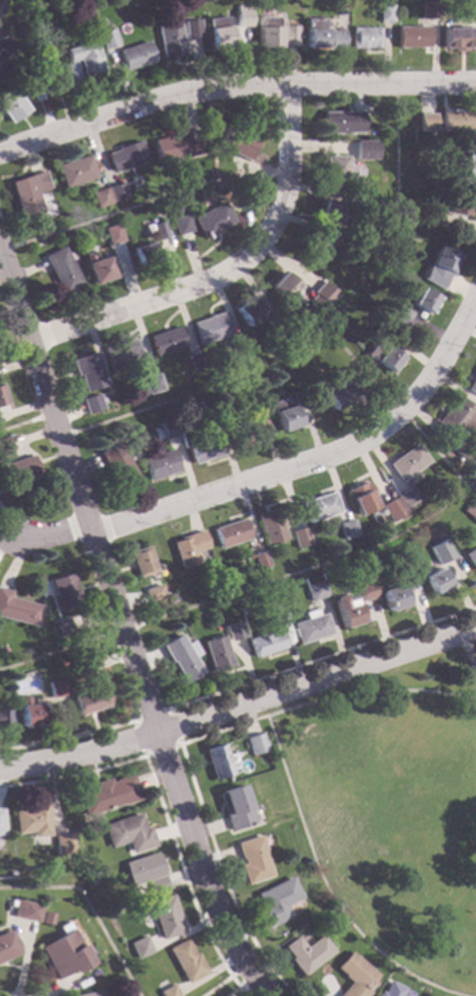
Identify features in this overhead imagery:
building: (470, 10)
building: (429, 11)
building: (0, 12)
building: (385, 15)
building: (243, 19)
building: (99, 24)
building: (192, 30)
building: (218, 33)
building: (275, 34)
building: (322, 36)
building: (412, 38)
building: (365, 39)
building: (458, 39)
building: (108, 40)
building: (170, 41)
building: (4, 50)
building: (135, 56)
building: (85, 58)
road: (46, 64)
building: (70, 72)
building: (2, 75)
building: (37, 89)
road: (233, 89)
building: (12, 106)
building: (456, 121)
building: (342, 123)
building: (427, 123)
building: (237, 143)
building: (179, 147)
building: (365, 151)
building: (126, 157)
building: (461, 163)
building: (336, 169)
building: (76, 173)
building: (439, 182)
building: (248, 187)
building: (29, 192)
building: (116, 192)
building: (99, 199)
building: (456, 204)
building: (361, 205)
building: (331, 213)
road: (113, 214)
building: (427, 218)
building: (213, 221)
building: (181, 226)
building: (161, 231)
building: (113, 236)
building: (315, 250)
building: (353, 250)
road: (5, 254)
building: (143, 256)
building: (442, 260)
building: (97, 269)
building: (62, 271)
road: (227, 271)
building: (425, 278)
building: (285, 287)
building: (322, 296)
building: (423, 302)
building: (249, 313)
building: (400, 316)
building: (278, 325)
building: (211, 330)
building: (386, 330)
road: (322, 334)
building: (166, 343)
building: (238, 350)
building: (123, 356)
building: (383, 357)
building: (196, 362)
building: (89, 372)
building: (151, 385)
building: (472, 386)
building: (352, 388)
building: (332, 395)
building: (2, 398)
building: (299, 399)
building: (93, 405)
road: (398, 414)
building: (211, 417)
building: (283, 417)
building: (457, 419)
road: (19, 424)
road: (55, 425)
building: (262, 429)
building: (168, 430)
building: (243, 435)
building: (5, 447)
building: (203, 449)
building: (461, 452)
road: (316, 459)
building: (407, 464)
building: (160, 466)
building: (119, 468)
building: (21, 471)
building: (360, 498)
building: (408, 499)
building: (319, 508)
building: (393, 510)
building: (473, 518)
building: (375, 520)
building: (270, 528)
building: (347, 531)
building: (231, 534)
road: (52, 535)
building: (300, 538)
building: (189, 549)
building: (441, 553)
building: (471, 558)
building: (261, 562)
building: (143, 563)
road: (314, 567)
building: (404, 569)
building: (422, 569)
building: (436, 582)
building: (386, 584)
building: (316, 591)
building: (65, 592)
building: (366, 592)
building: (154, 594)
building: (393, 599)
building: (18, 610)
building: (347, 611)
building: (277, 614)
road: (122, 625)
building: (61, 628)
building: (311, 628)
road: (122, 630)
building: (234, 632)
building: (266, 644)
road: (54, 652)
building: (217, 655)
road: (470, 656)
road: (321, 658)
building: (182, 659)
building: (82, 668)
building: (54, 689)
road: (411, 691)
building: (89, 702)
road: (306, 703)
road: (239, 704)
building: (28, 714)
road: (150, 715)
building: (5, 720)
road: (173, 727)
road: (67, 738)
road: (139, 738)
building: (256, 744)
road: (162, 751)
park: (348, 761)
building: (217, 763)
road: (73, 775)
building: (109, 795)
park: (368, 799)
building: (237, 809)
park: (392, 809)
building: (32, 821)
building: (1, 825)
building: (129, 834)
road: (209, 834)
building: (63, 845)
building: (253, 861)
building: (146, 873)
road: (186, 879)
road: (324, 888)
building: (7, 903)
building: (276, 903)
road: (87, 909)
building: (25, 912)
building: (165, 917)
building: (6, 947)
building: (140, 948)
building: (307, 955)
building: (64, 956)
building: (187, 962)
road: (246, 966)
building: (355, 976)
road: (217, 986)
building: (392, 990)
building: (169, 992)
building: (94, 994)

